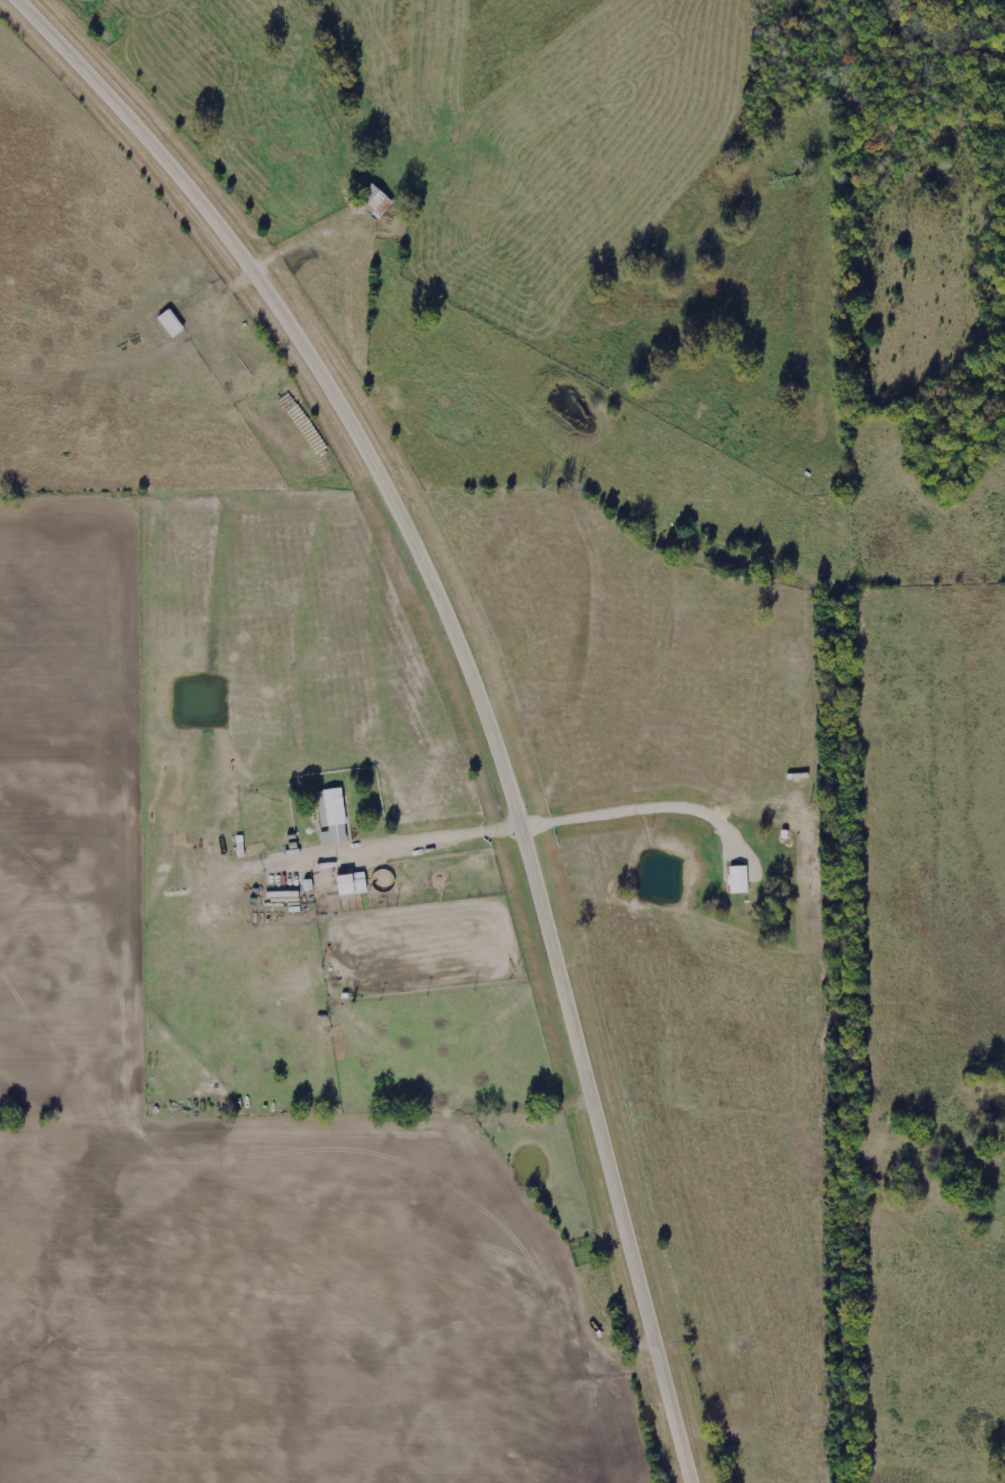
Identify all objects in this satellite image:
road: (475, 683)
building: (332, 816)
building: (737, 881)
building: (350, 884)

